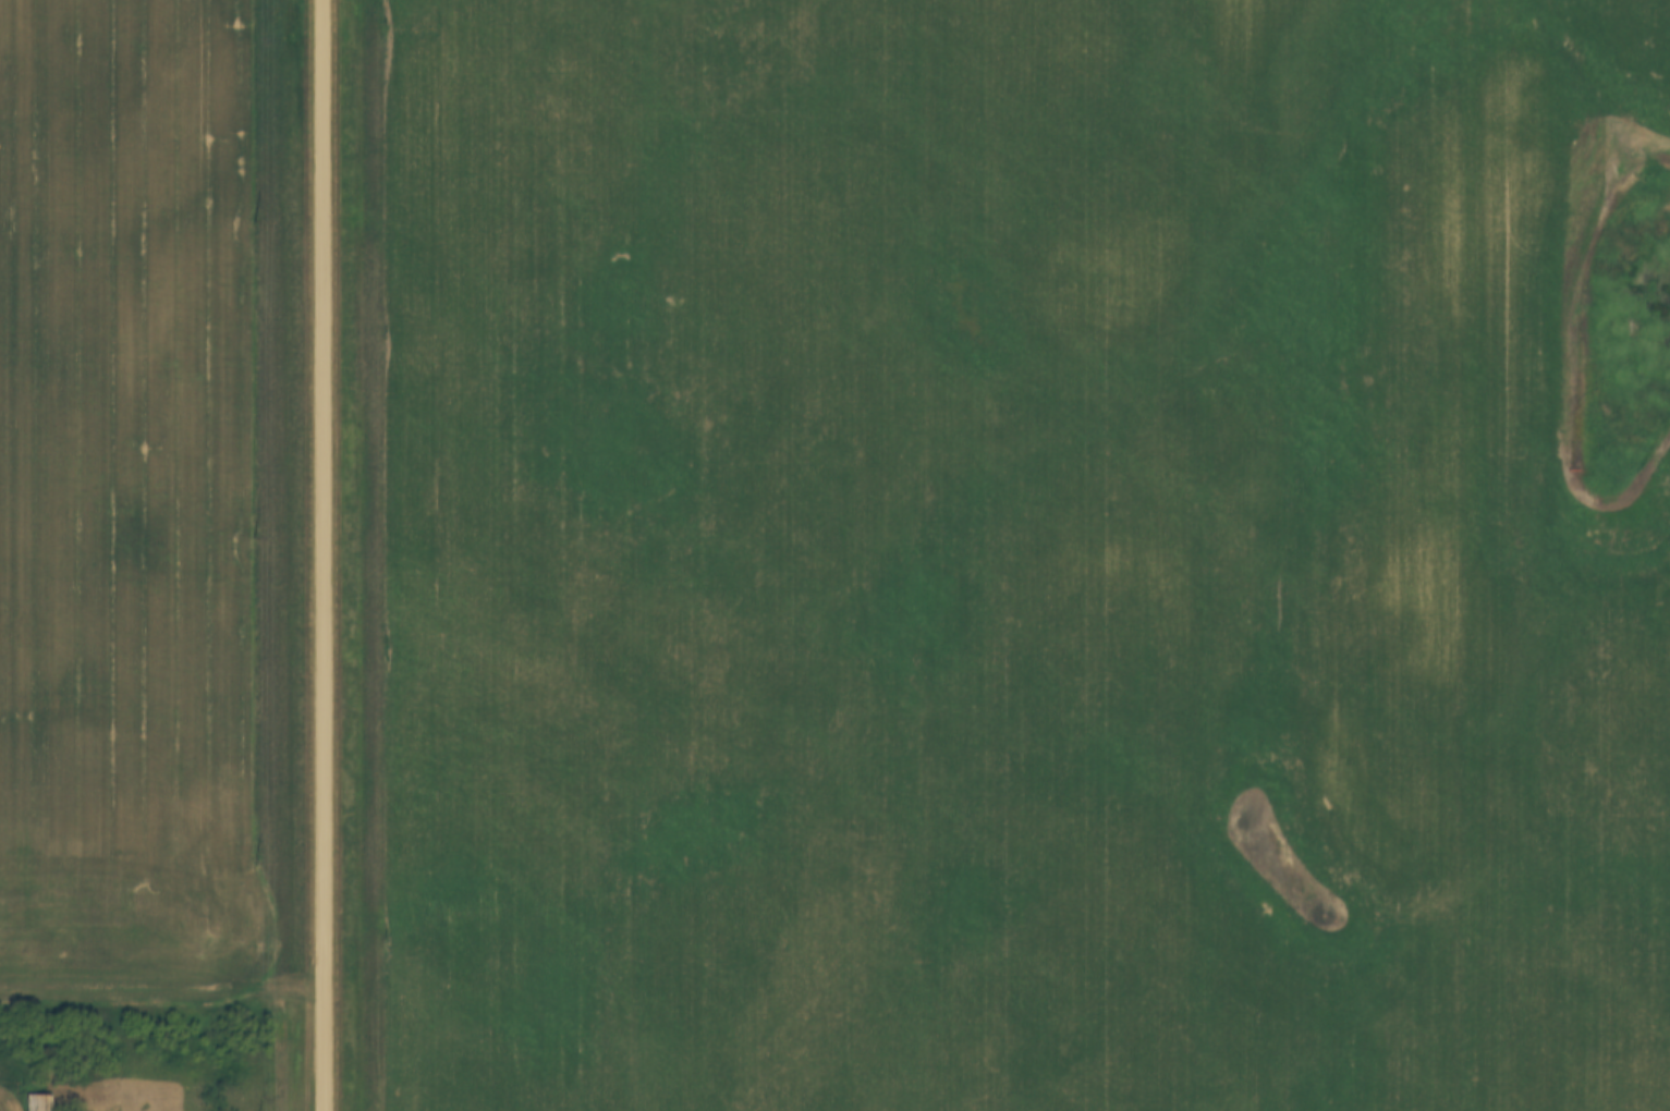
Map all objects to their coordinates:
road: (326, 554)
road: (163, 989)

